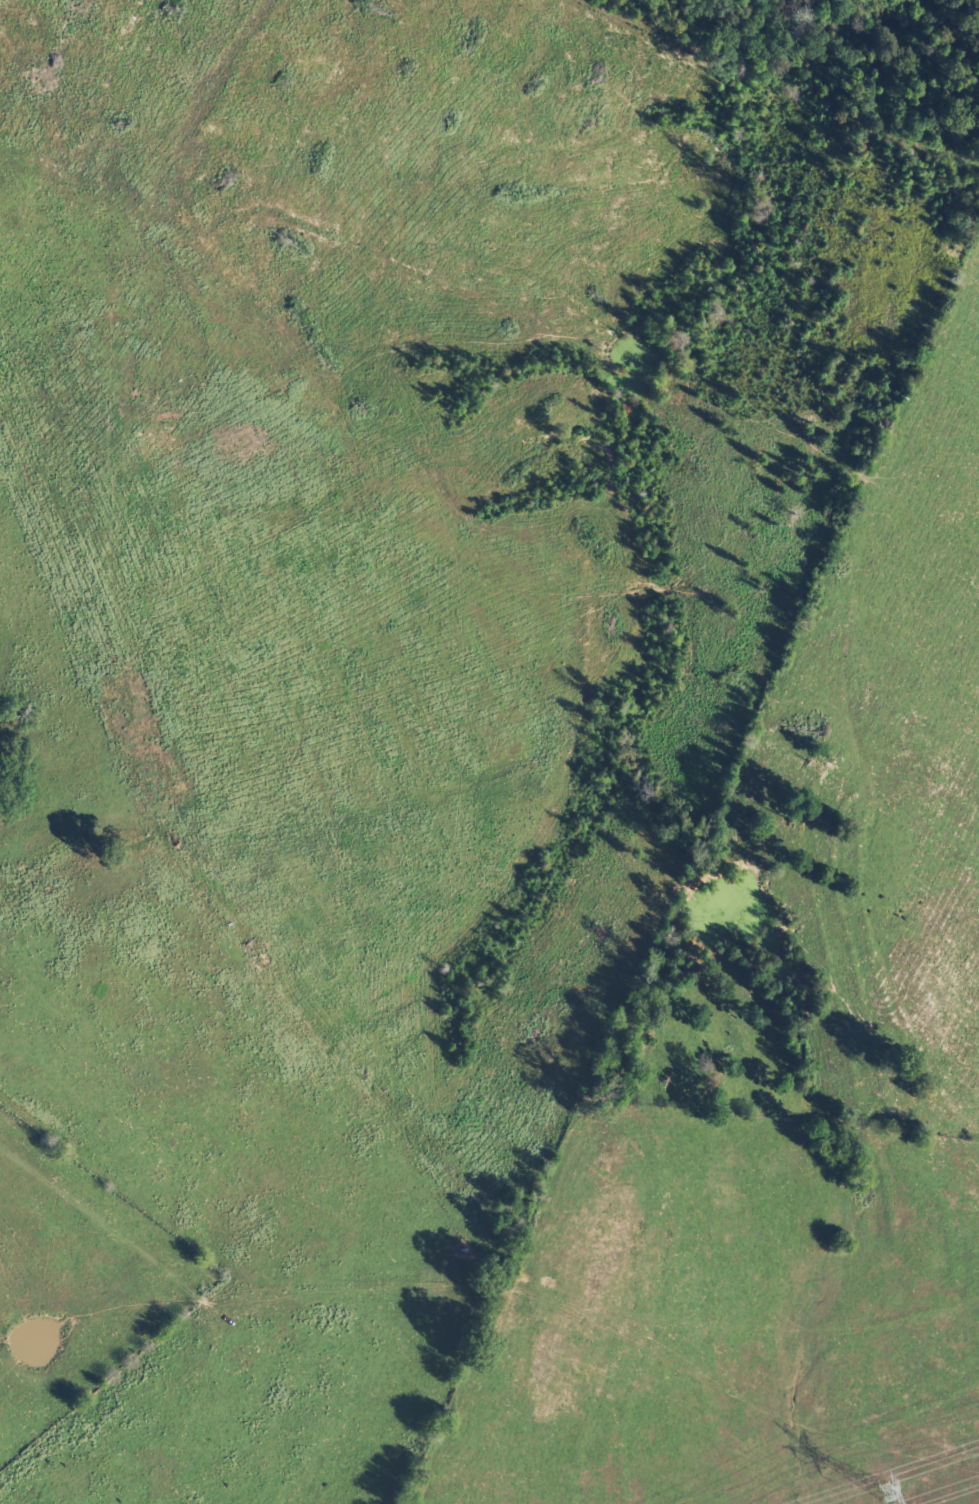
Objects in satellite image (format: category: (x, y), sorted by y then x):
power tower: (885, 1493)

